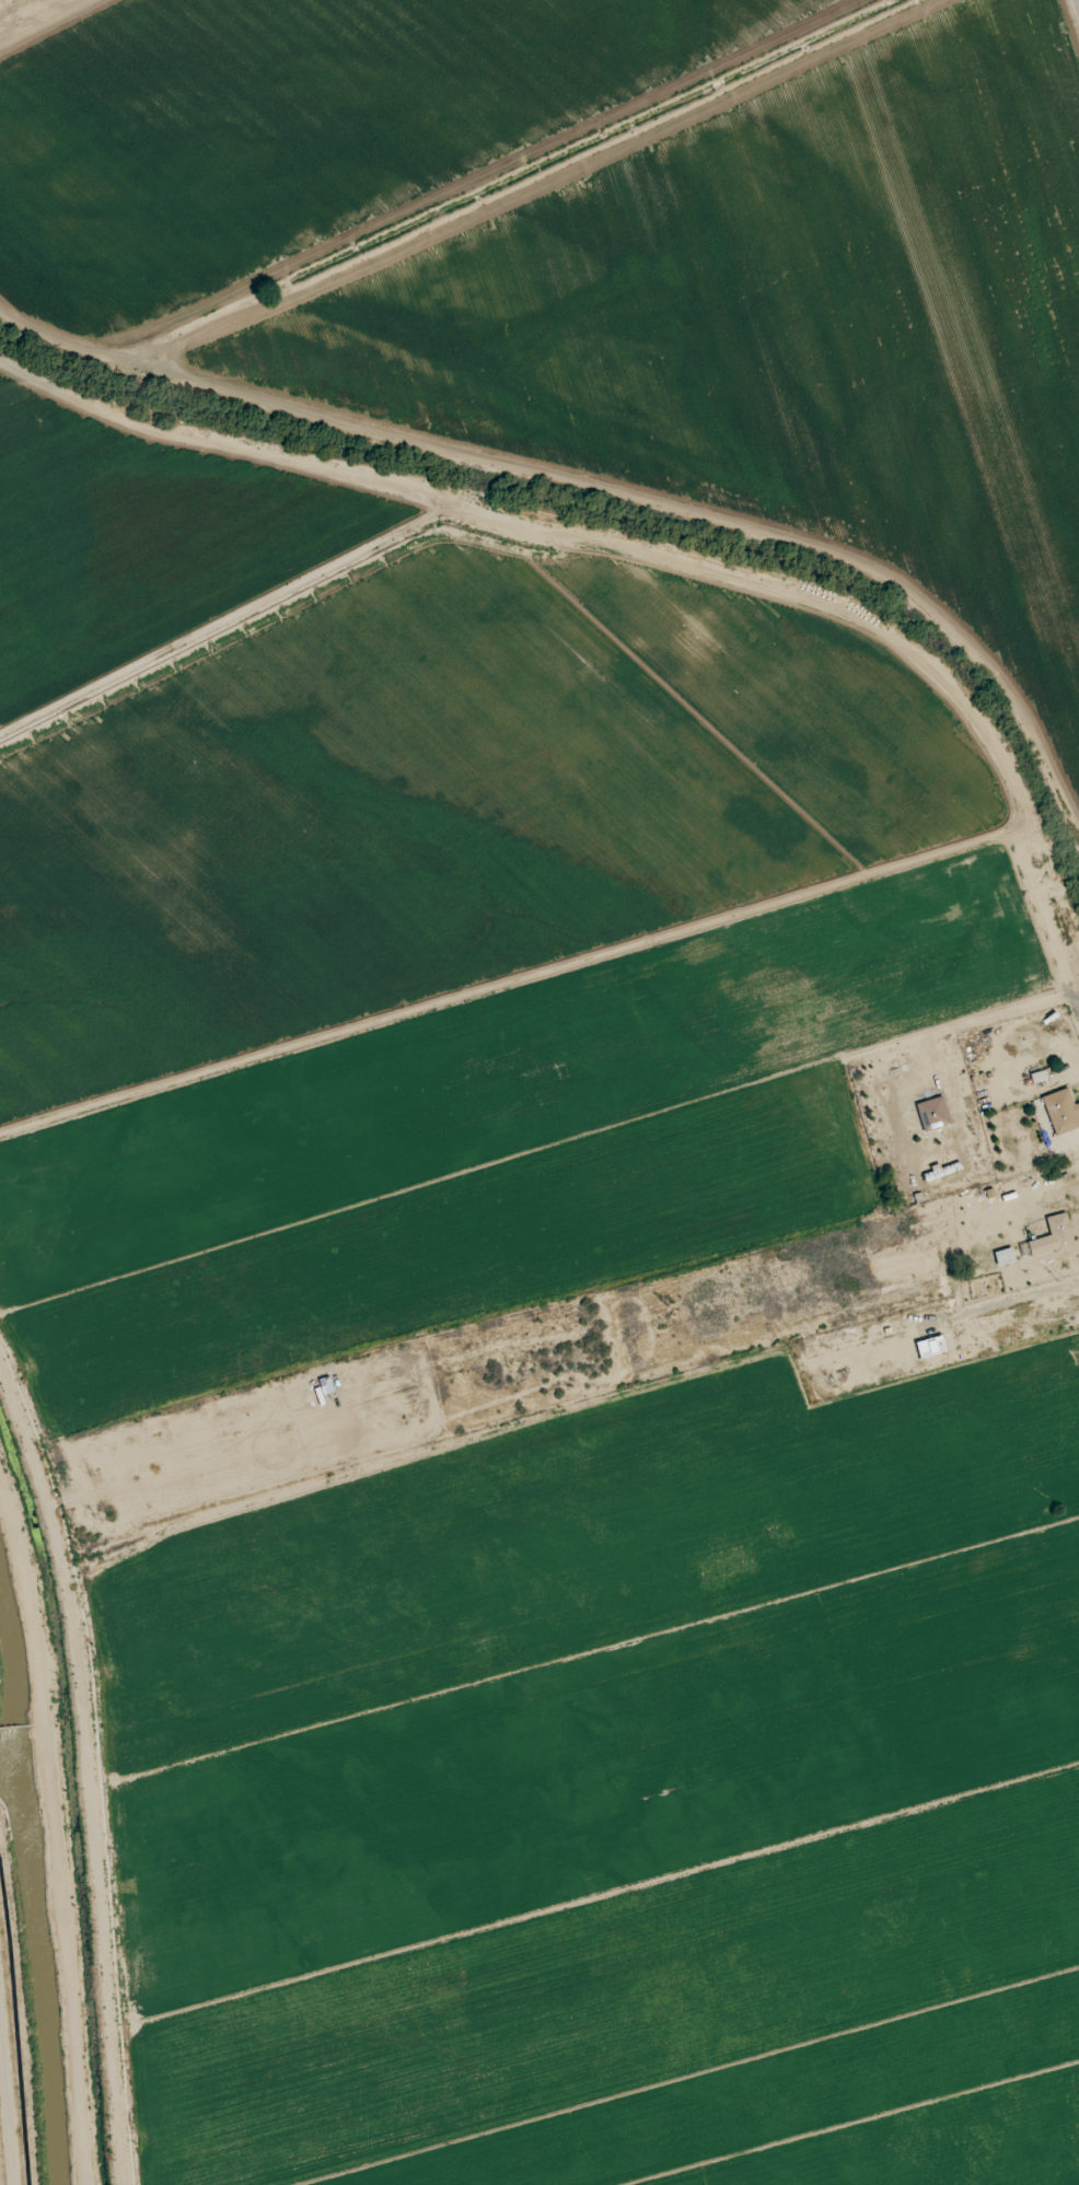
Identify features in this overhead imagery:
road: (1063, 930)
building: (1061, 1111)
building: (933, 1114)
building: (1052, 1237)

